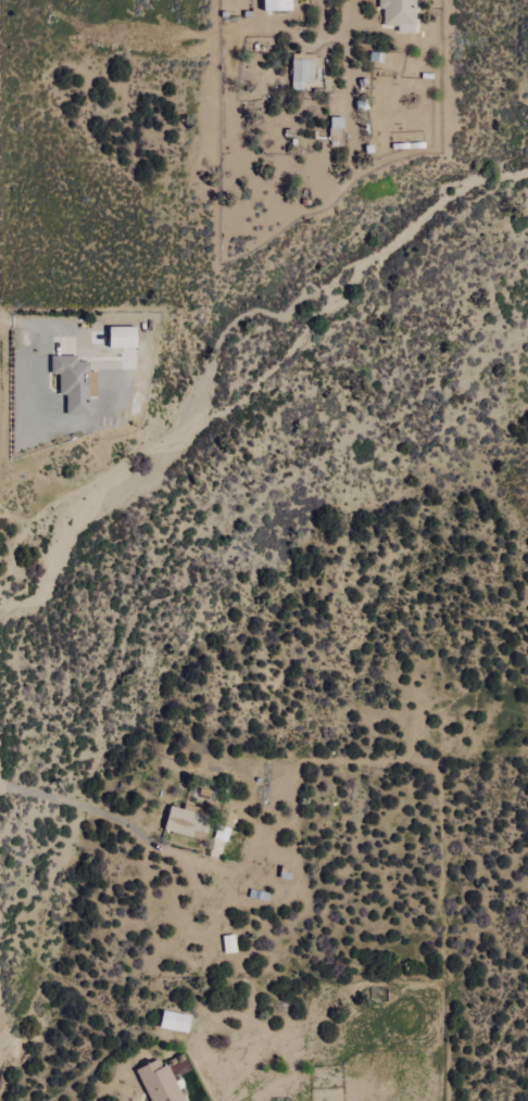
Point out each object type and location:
building: (278, 5)
building: (400, 14)
road: (342, 48)
building: (303, 73)
building: (124, 338)
building: (75, 383)
road: (68, 806)
building: (188, 821)
building: (176, 1023)
road: (278, 1087)

